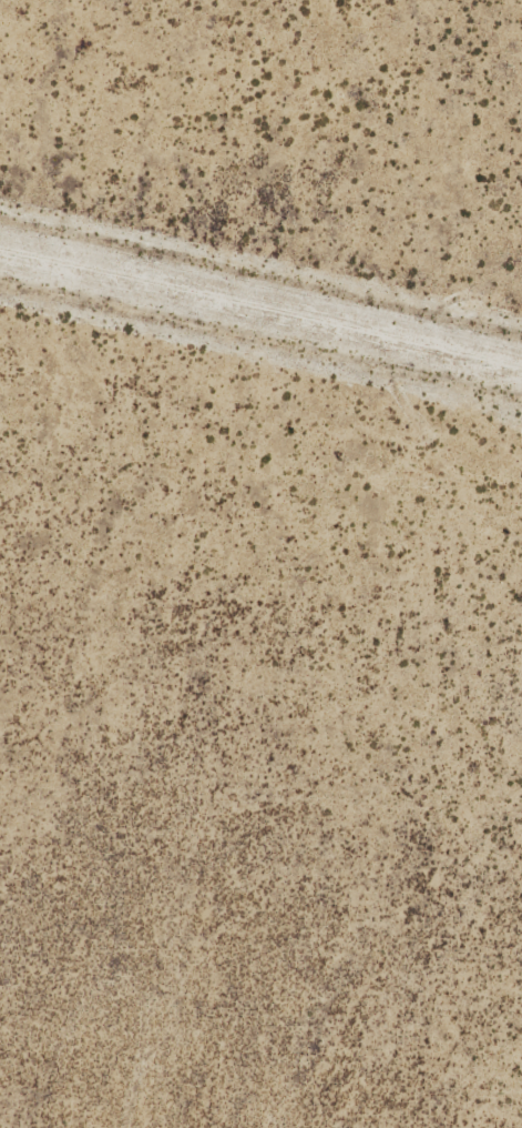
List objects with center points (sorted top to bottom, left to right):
airport runway: (260, 305)

